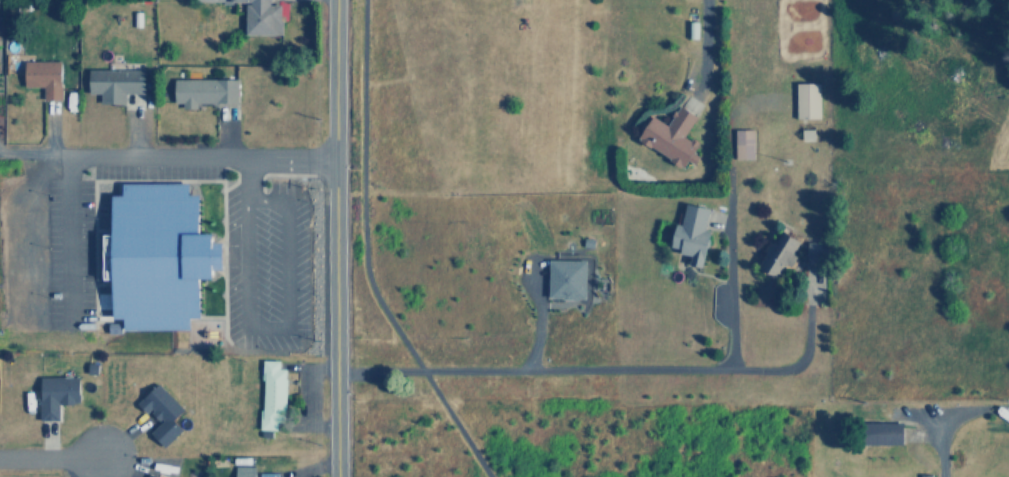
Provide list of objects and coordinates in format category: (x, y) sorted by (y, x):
road: (517, 0)
building: (261, 16)
road: (702, 48)
building: (45, 77)
building: (116, 83)
building: (205, 91)
building: (804, 100)
building: (673, 136)
building: (744, 143)
road: (175, 155)
road: (244, 177)
building: (694, 233)
road: (335, 238)
road: (67, 240)
building: (781, 252)
building: (156, 256)
road: (362, 256)
building: (568, 278)
road: (730, 282)
road: (535, 314)
road: (284, 325)
road: (807, 339)
road: (565, 367)
building: (273, 393)
building: (58, 394)
building: (164, 414)
building: (886, 432)
road: (53, 456)
building: (245, 471)
building: (153, 475)
building: (925, 475)

